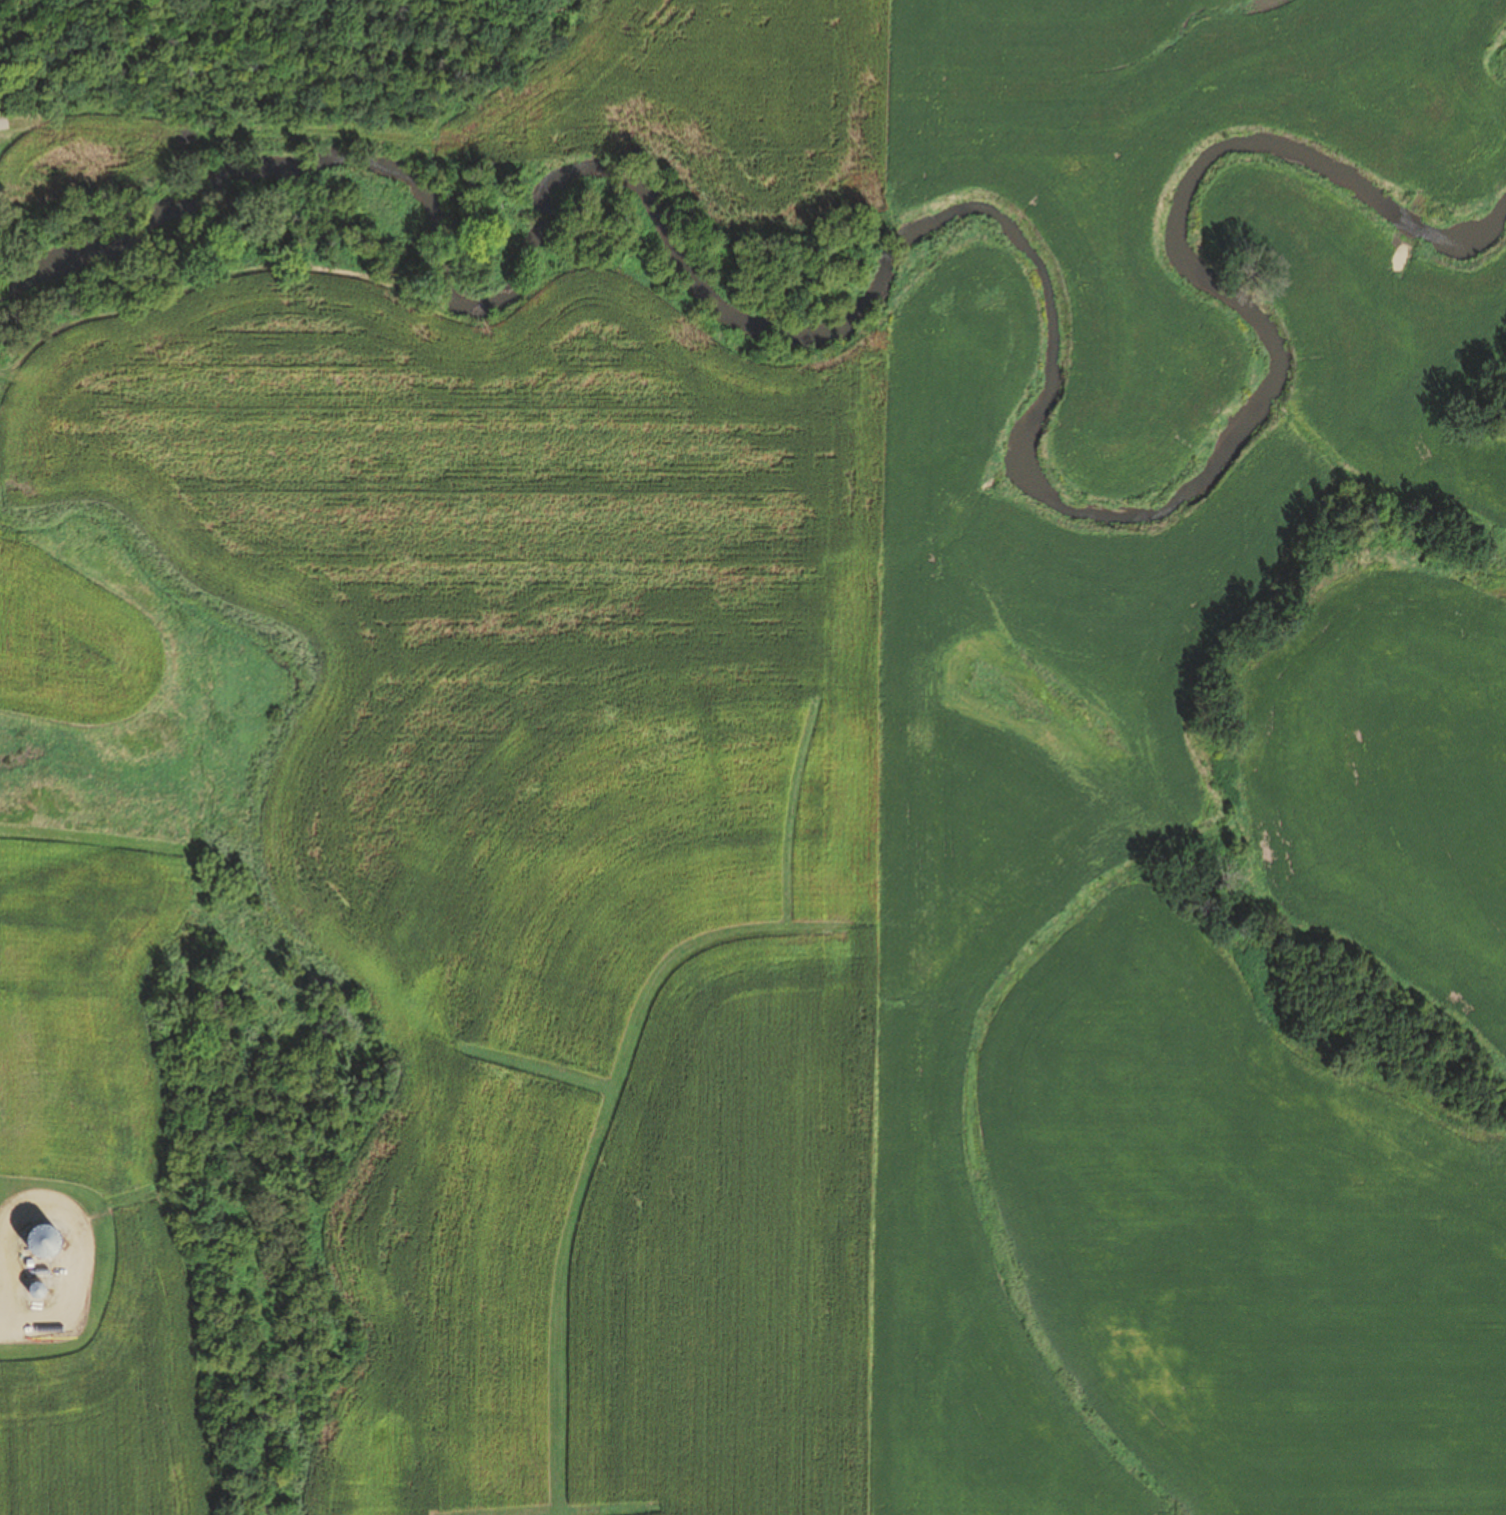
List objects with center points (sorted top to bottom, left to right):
building: (43, 1241)
building: (36, 1291)

